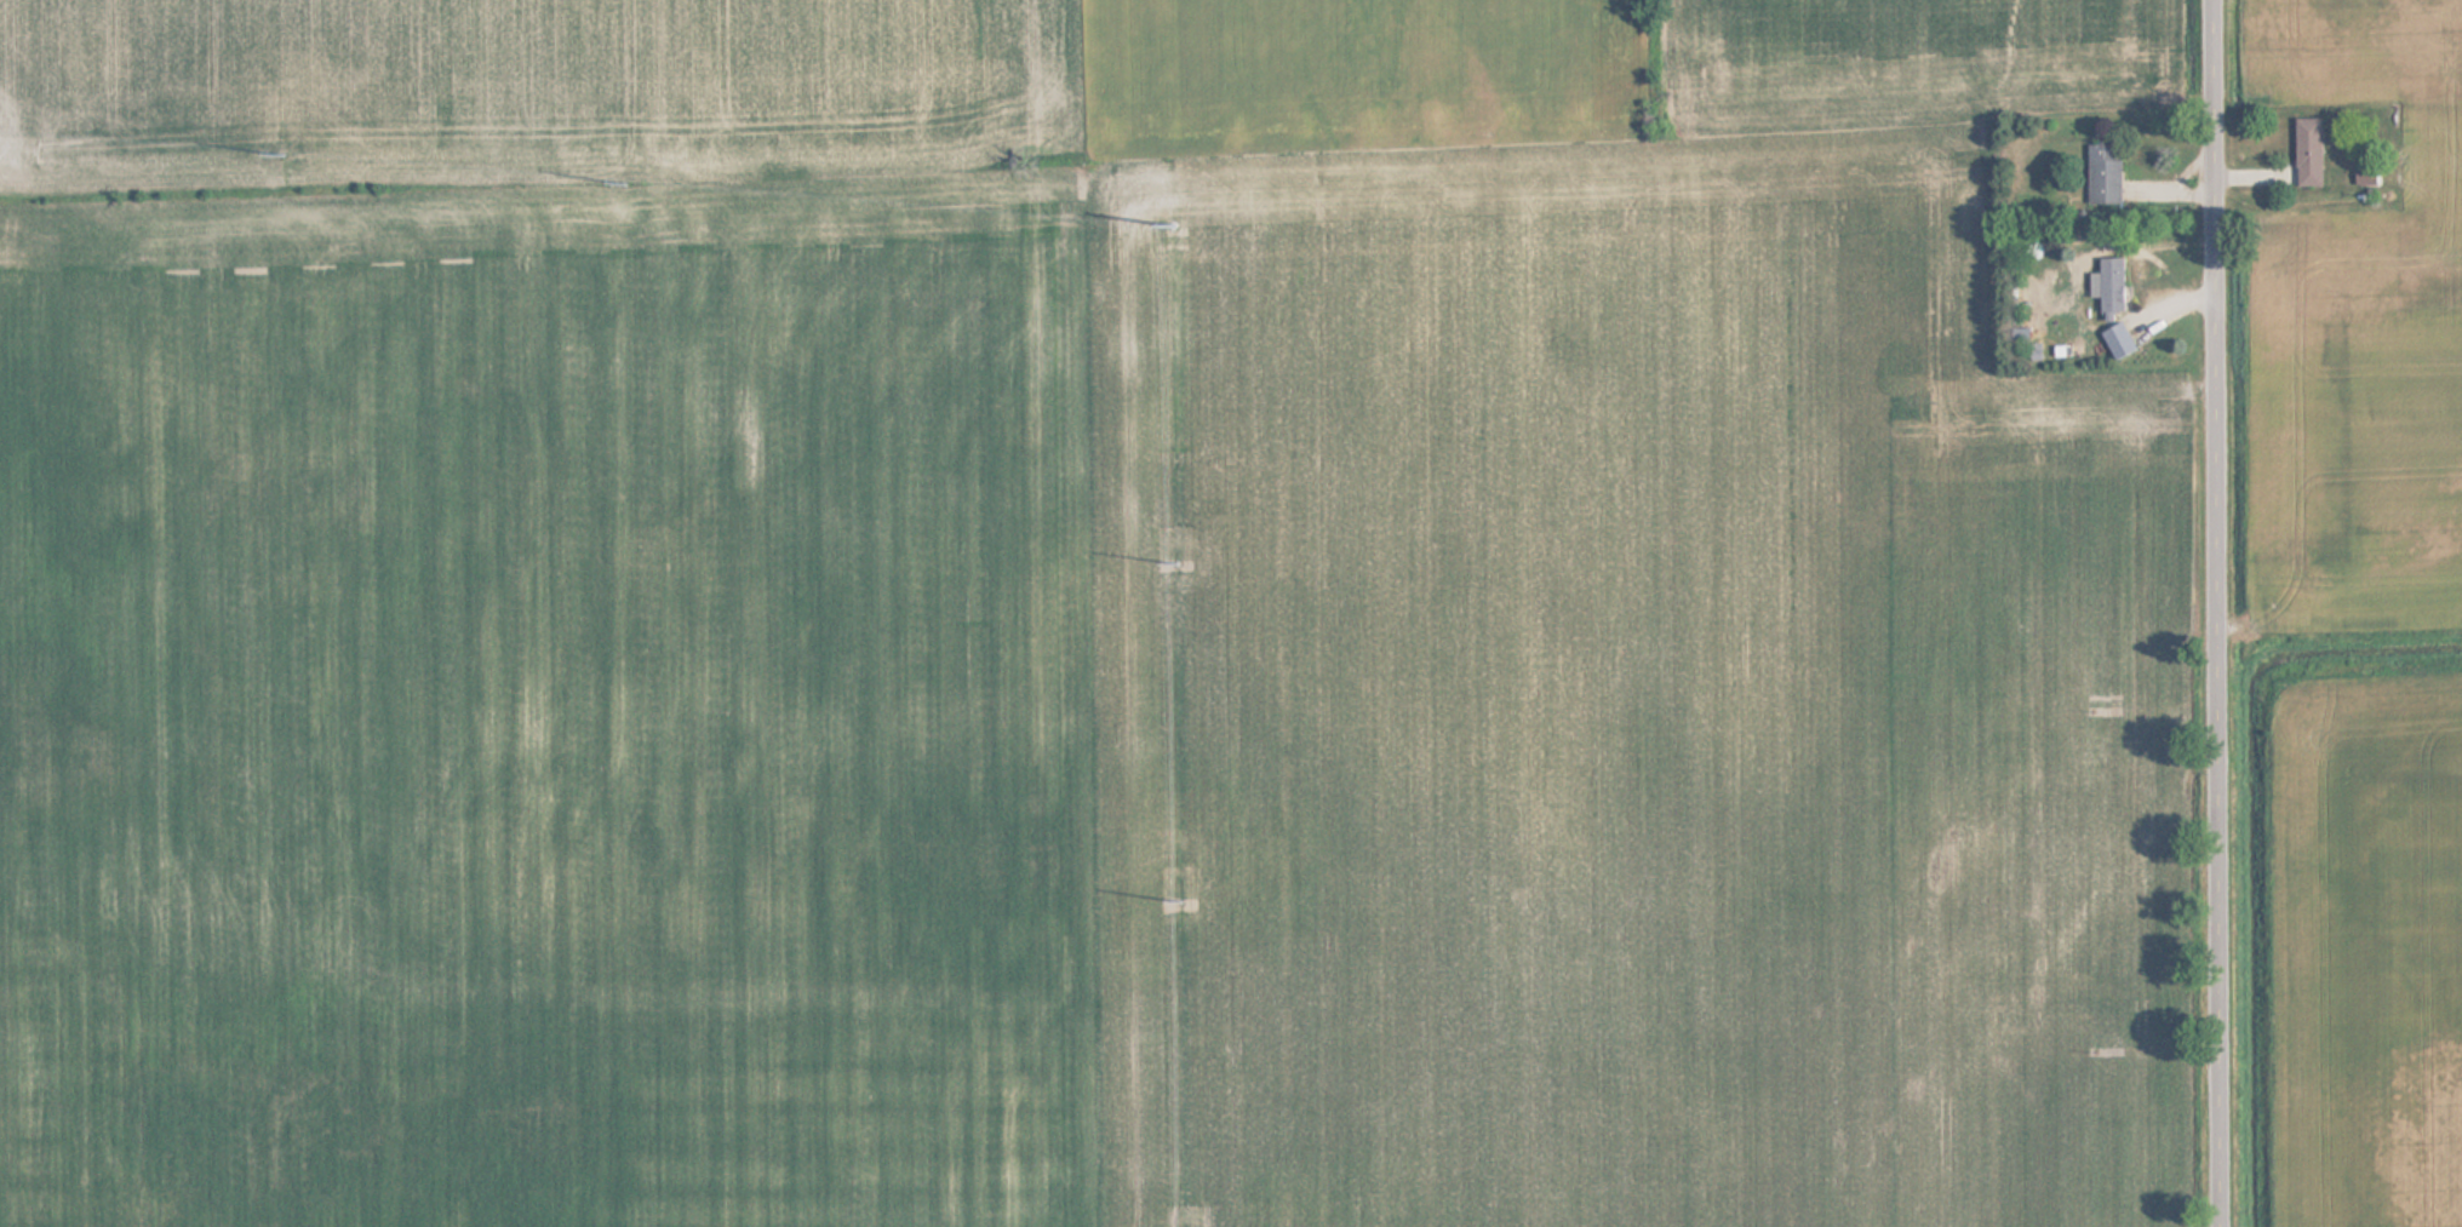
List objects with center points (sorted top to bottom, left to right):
power tower: (284, 149)
building: (2306, 151)
building: (2102, 174)
power tower: (630, 183)
power tower: (1176, 222)
building: (2108, 287)
power tower: (1180, 566)
road: (2223, 613)
power tower: (1179, 895)

